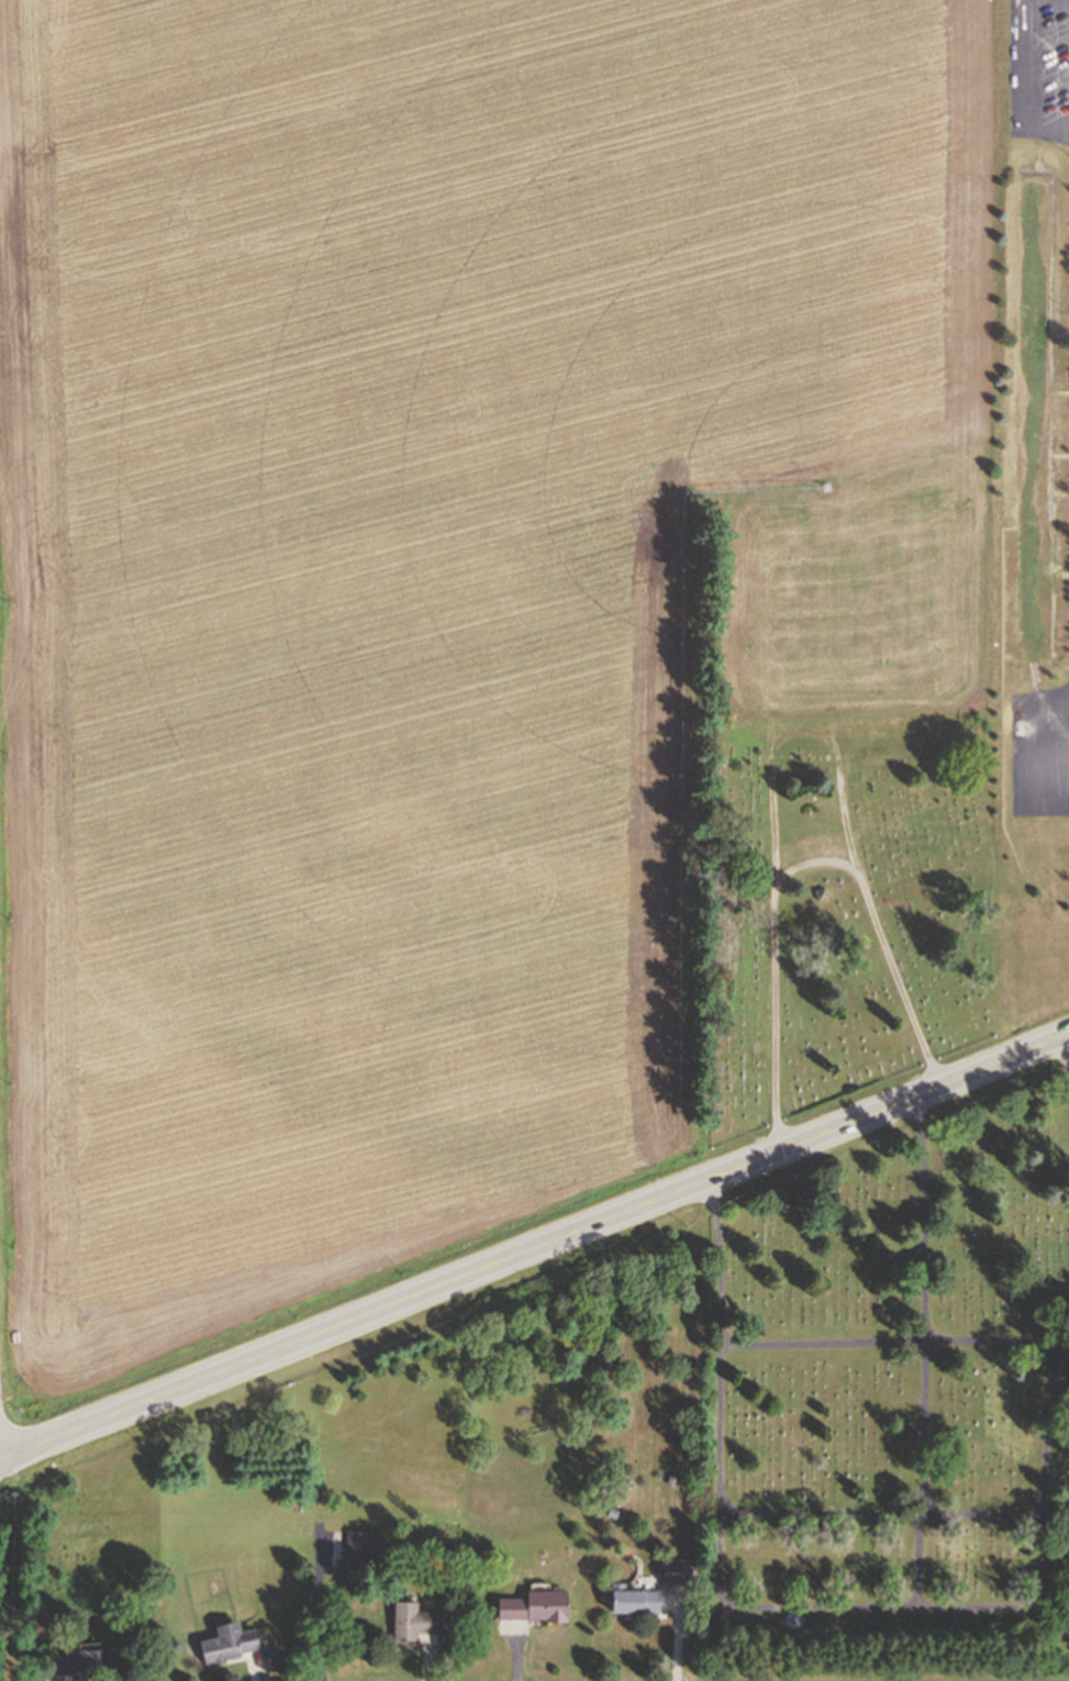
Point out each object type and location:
crop: (442, 590)
road: (800, 869)
park: (854, 919)
road: (1067, 1048)
road: (534, 1247)
road: (895, 1343)
road: (927, 1350)
park: (891, 1382)
building: (612, 1511)
road: (881, 1513)
building: (363, 1547)
building: (677, 1570)
building: (635, 1599)
building: (535, 1605)
road: (814, 1607)
building: (413, 1619)
building: (227, 1641)
building: (82, 1660)
building: (36, 1680)

